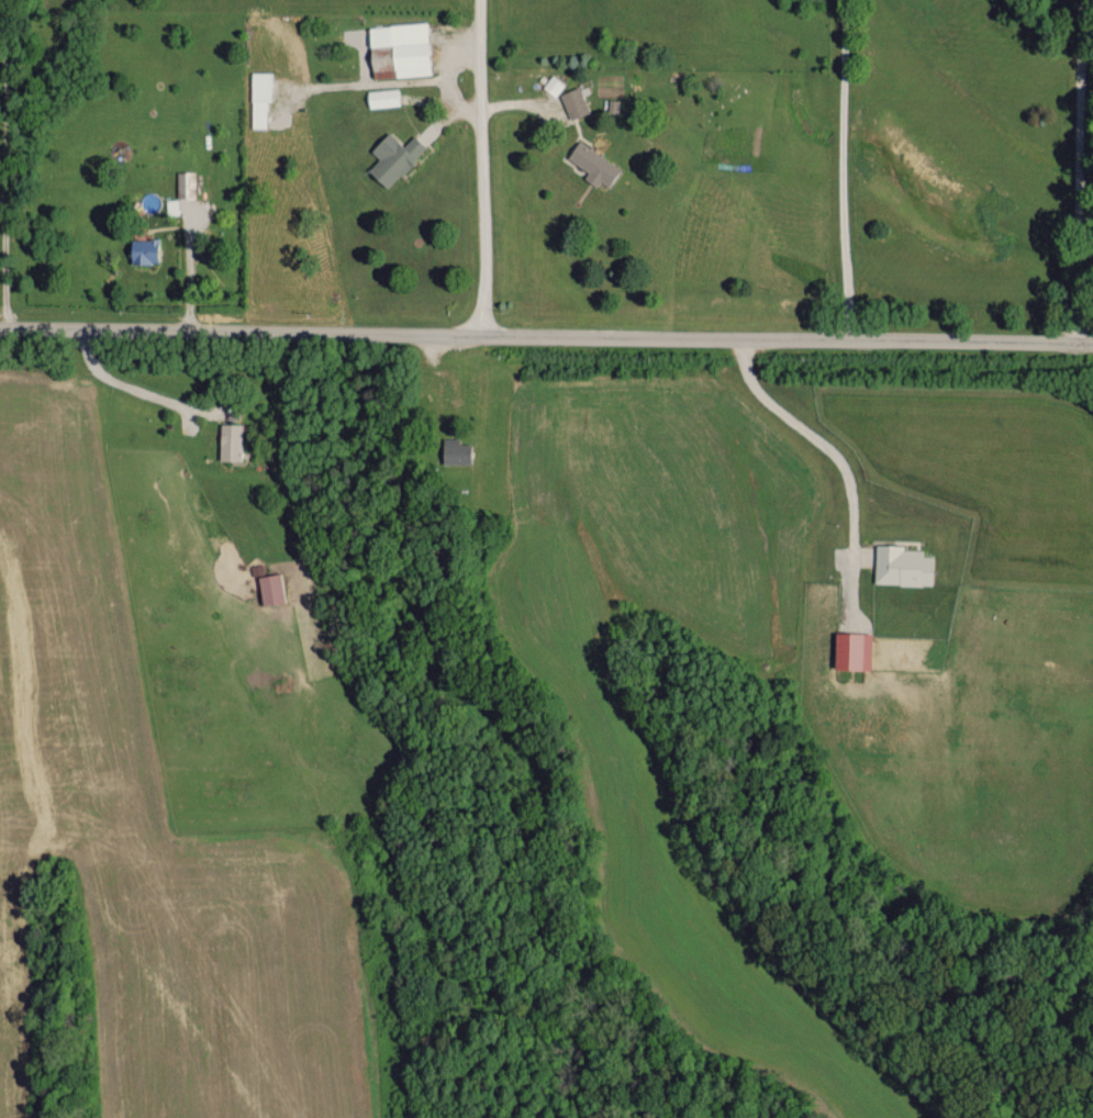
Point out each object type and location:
building: (398, 49)
building: (553, 85)
building: (382, 97)
building: (259, 99)
building: (573, 102)
building: (393, 157)
building: (593, 165)
road: (483, 168)
road: (845, 170)
road: (1077, 170)
building: (185, 183)
building: (143, 250)
road: (5, 268)
road: (189, 268)
road: (546, 336)
road: (127, 384)
road: (816, 437)
building: (230, 441)
building: (455, 450)
building: (902, 566)
building: (269, 588)
building: (851, 650)

